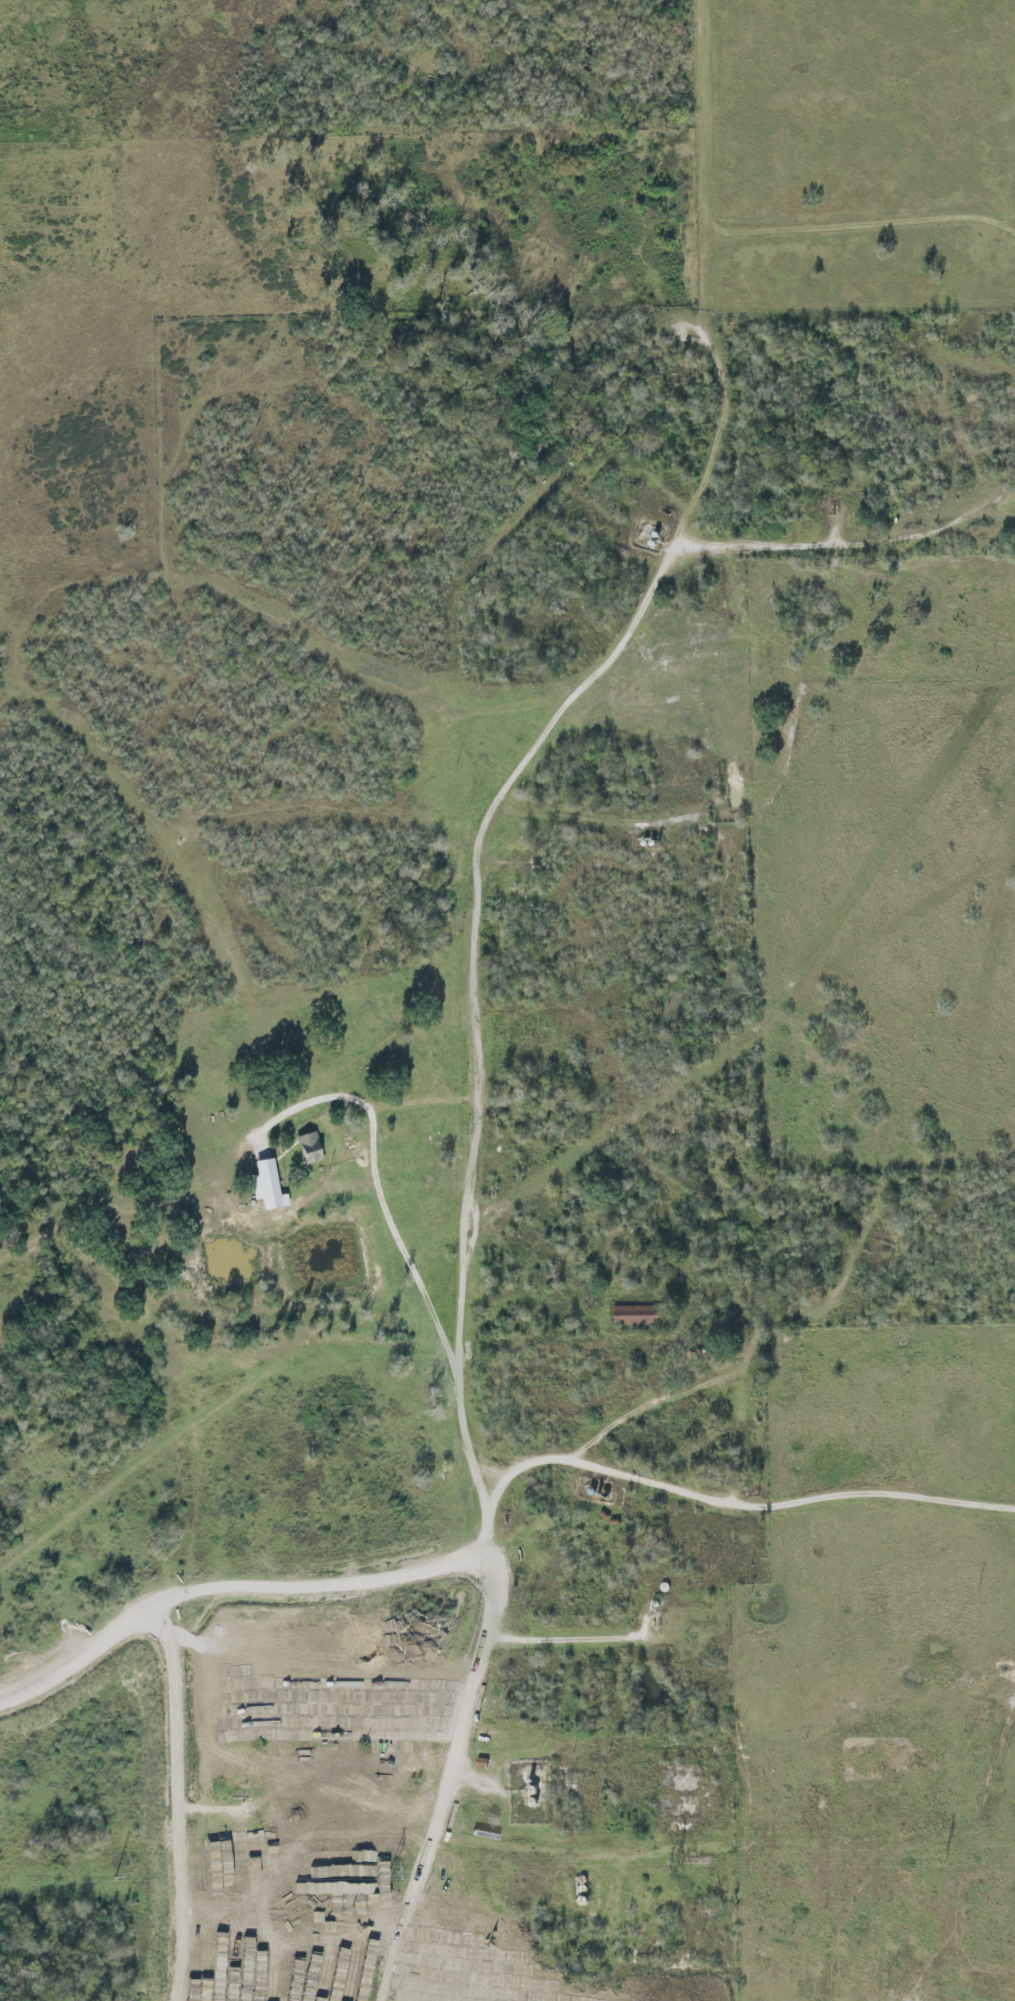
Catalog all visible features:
road: (705, 117)
road: (858, 544)
road: (483, 855)
building: (669, 1003)
road: (431, 1102)
building: (307, 1148)
building: (262, 1181)
road: (392, 1215)
building: (636, 1316)
road: (734, 1507)
road: (230, 1591)
road: (588, 1637)
power tower: (945, 1858)
power tower: (672, 1862)
power tower: (389, 1871)
power tower: (113, 1877)
road: (339, 1930)
road: (198, 1965)
road: (398, 1966)

